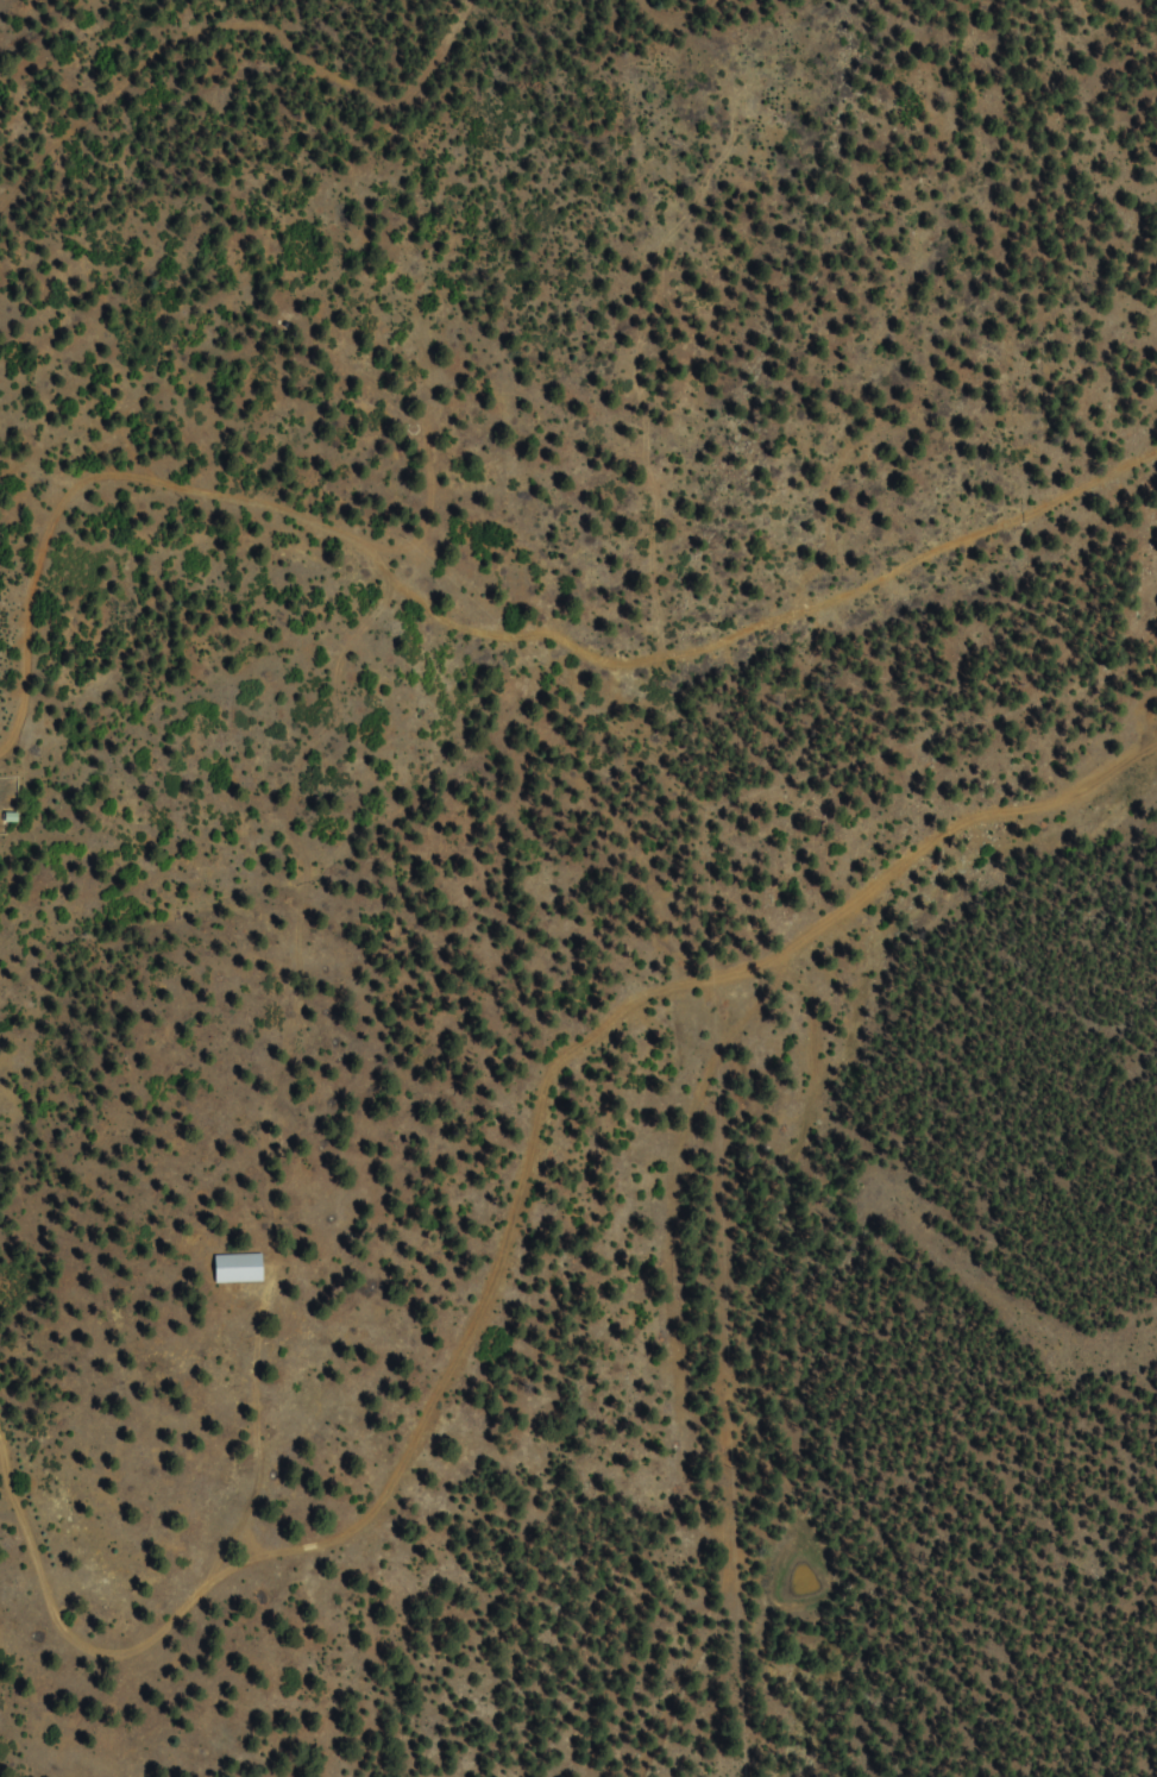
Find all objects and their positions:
building: (240, 1269)

